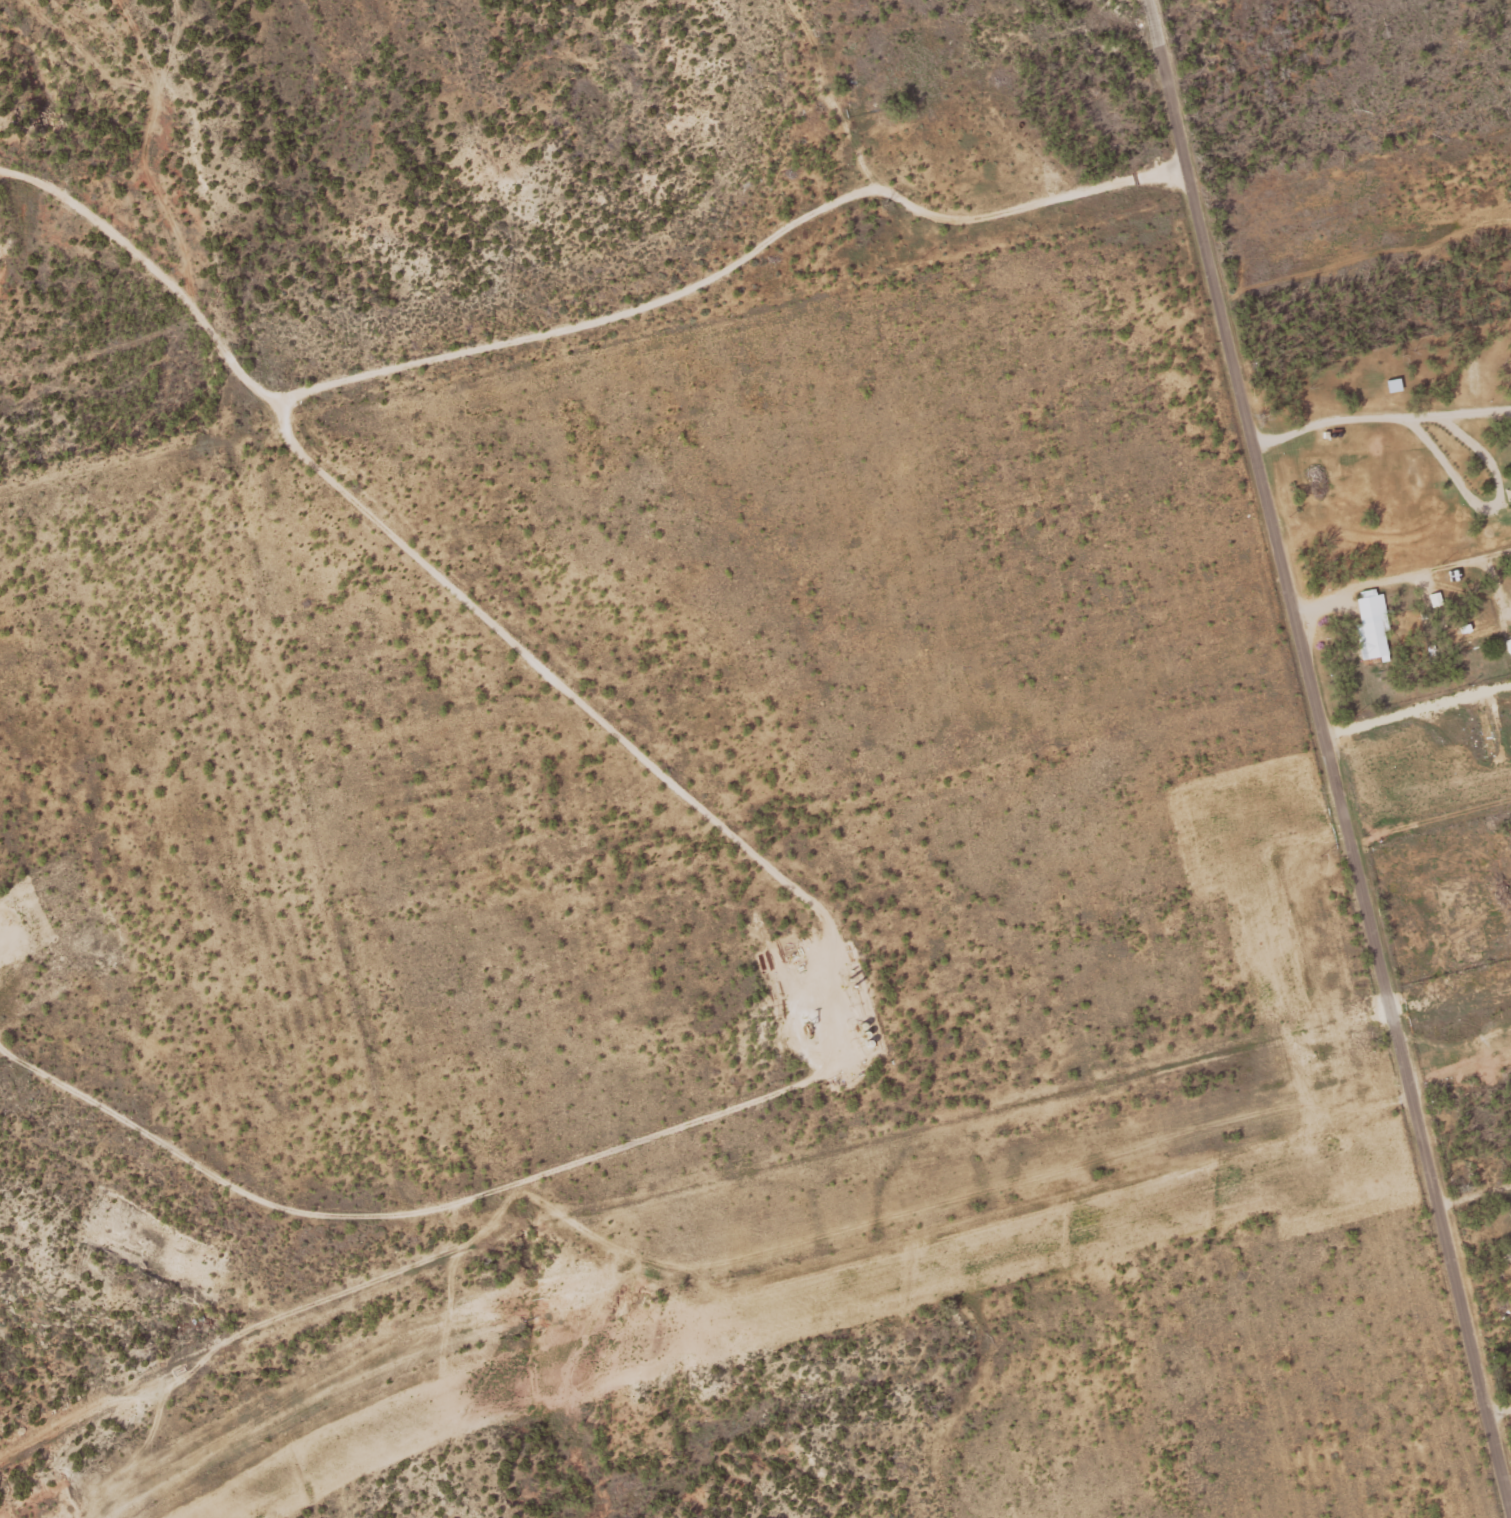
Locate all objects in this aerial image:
road: (1456, 432)
building: (1373, 625)
building: (1476, 633)
road: (1392, 716)
building: (1487, 727)
road: (1317, 761)

